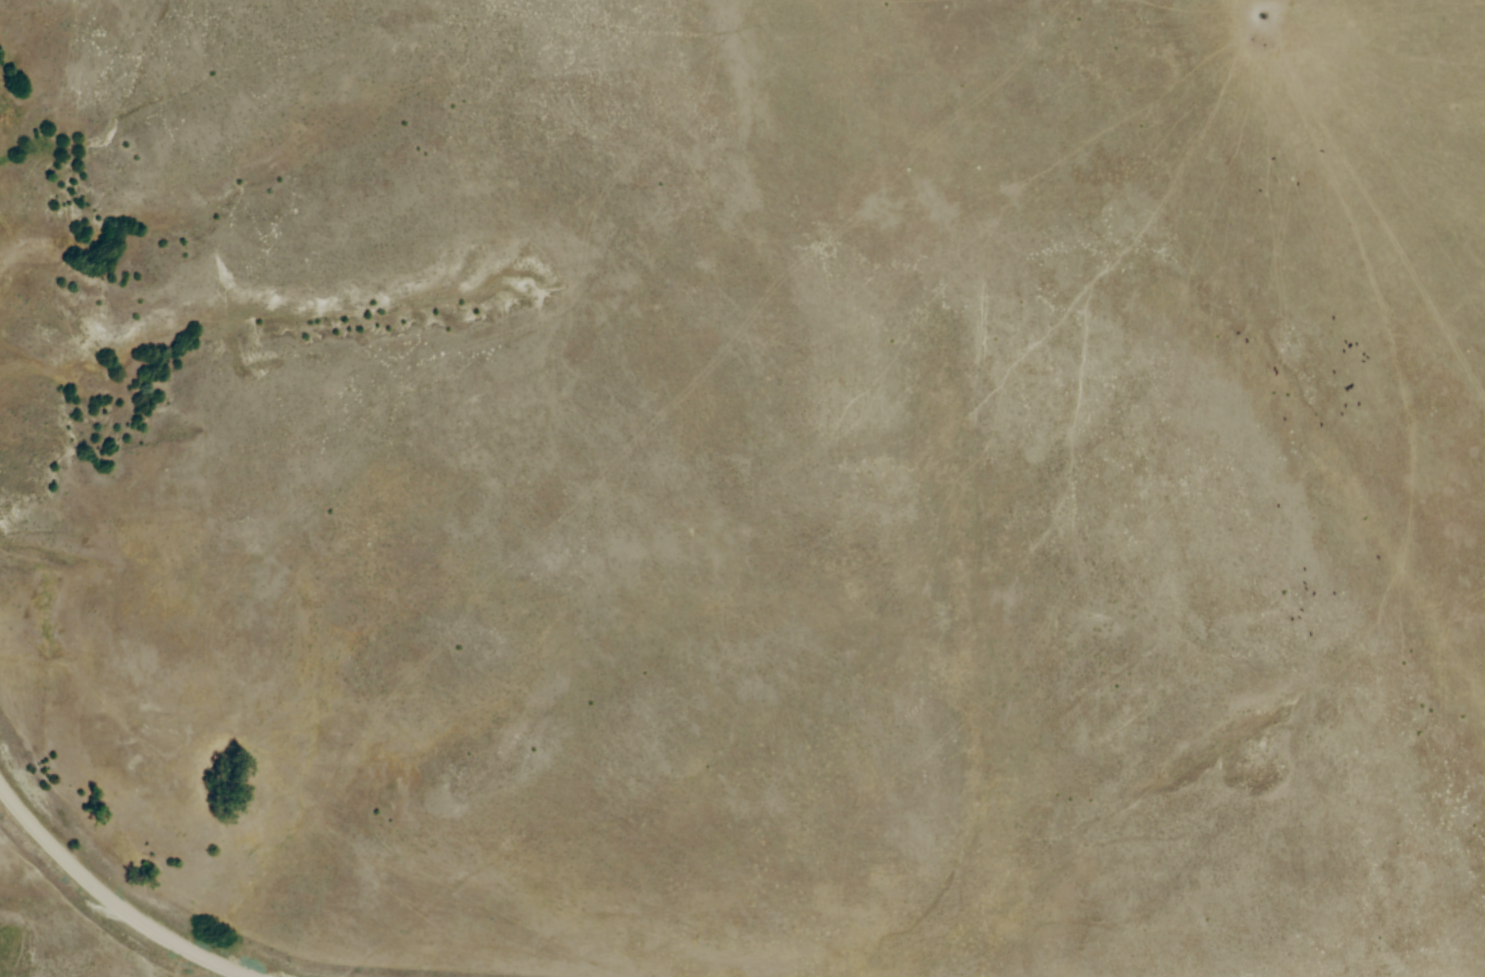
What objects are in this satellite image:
road: (103, 898)

